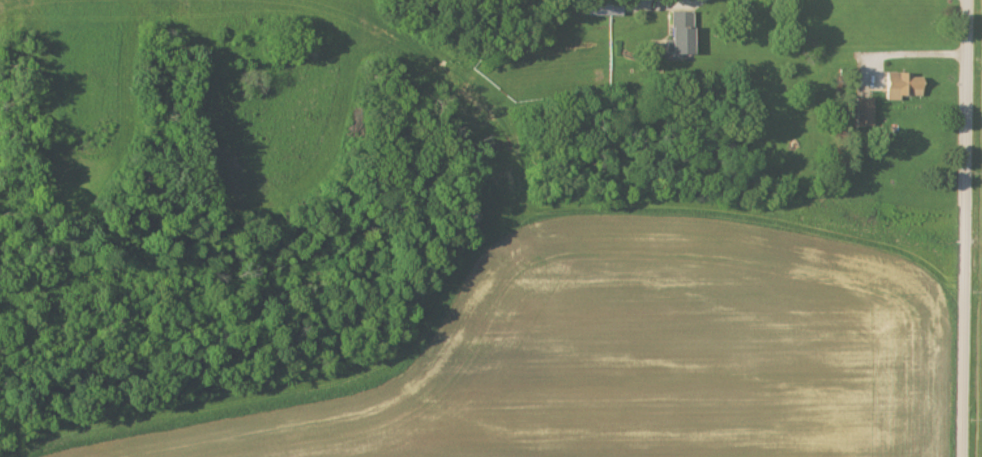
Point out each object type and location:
road: (688, 2)
building: (675, 32)
road: (899, 56)
building: (897, 84)
building: (861, 110)
road: (966, 228)

